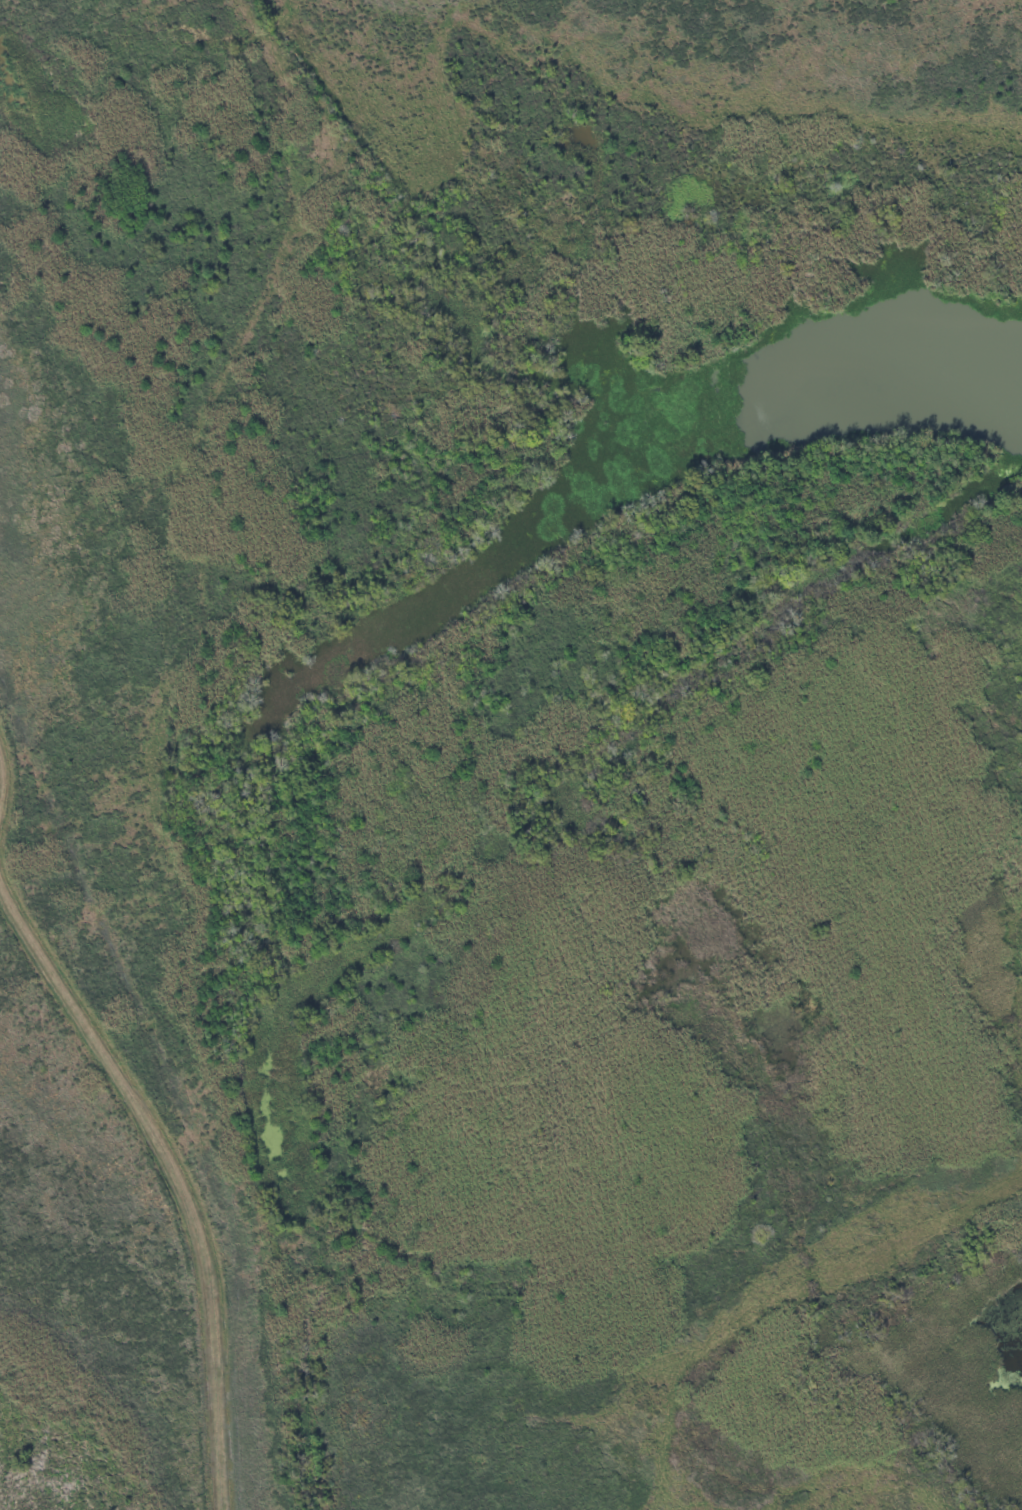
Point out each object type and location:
road: (65, 899)

